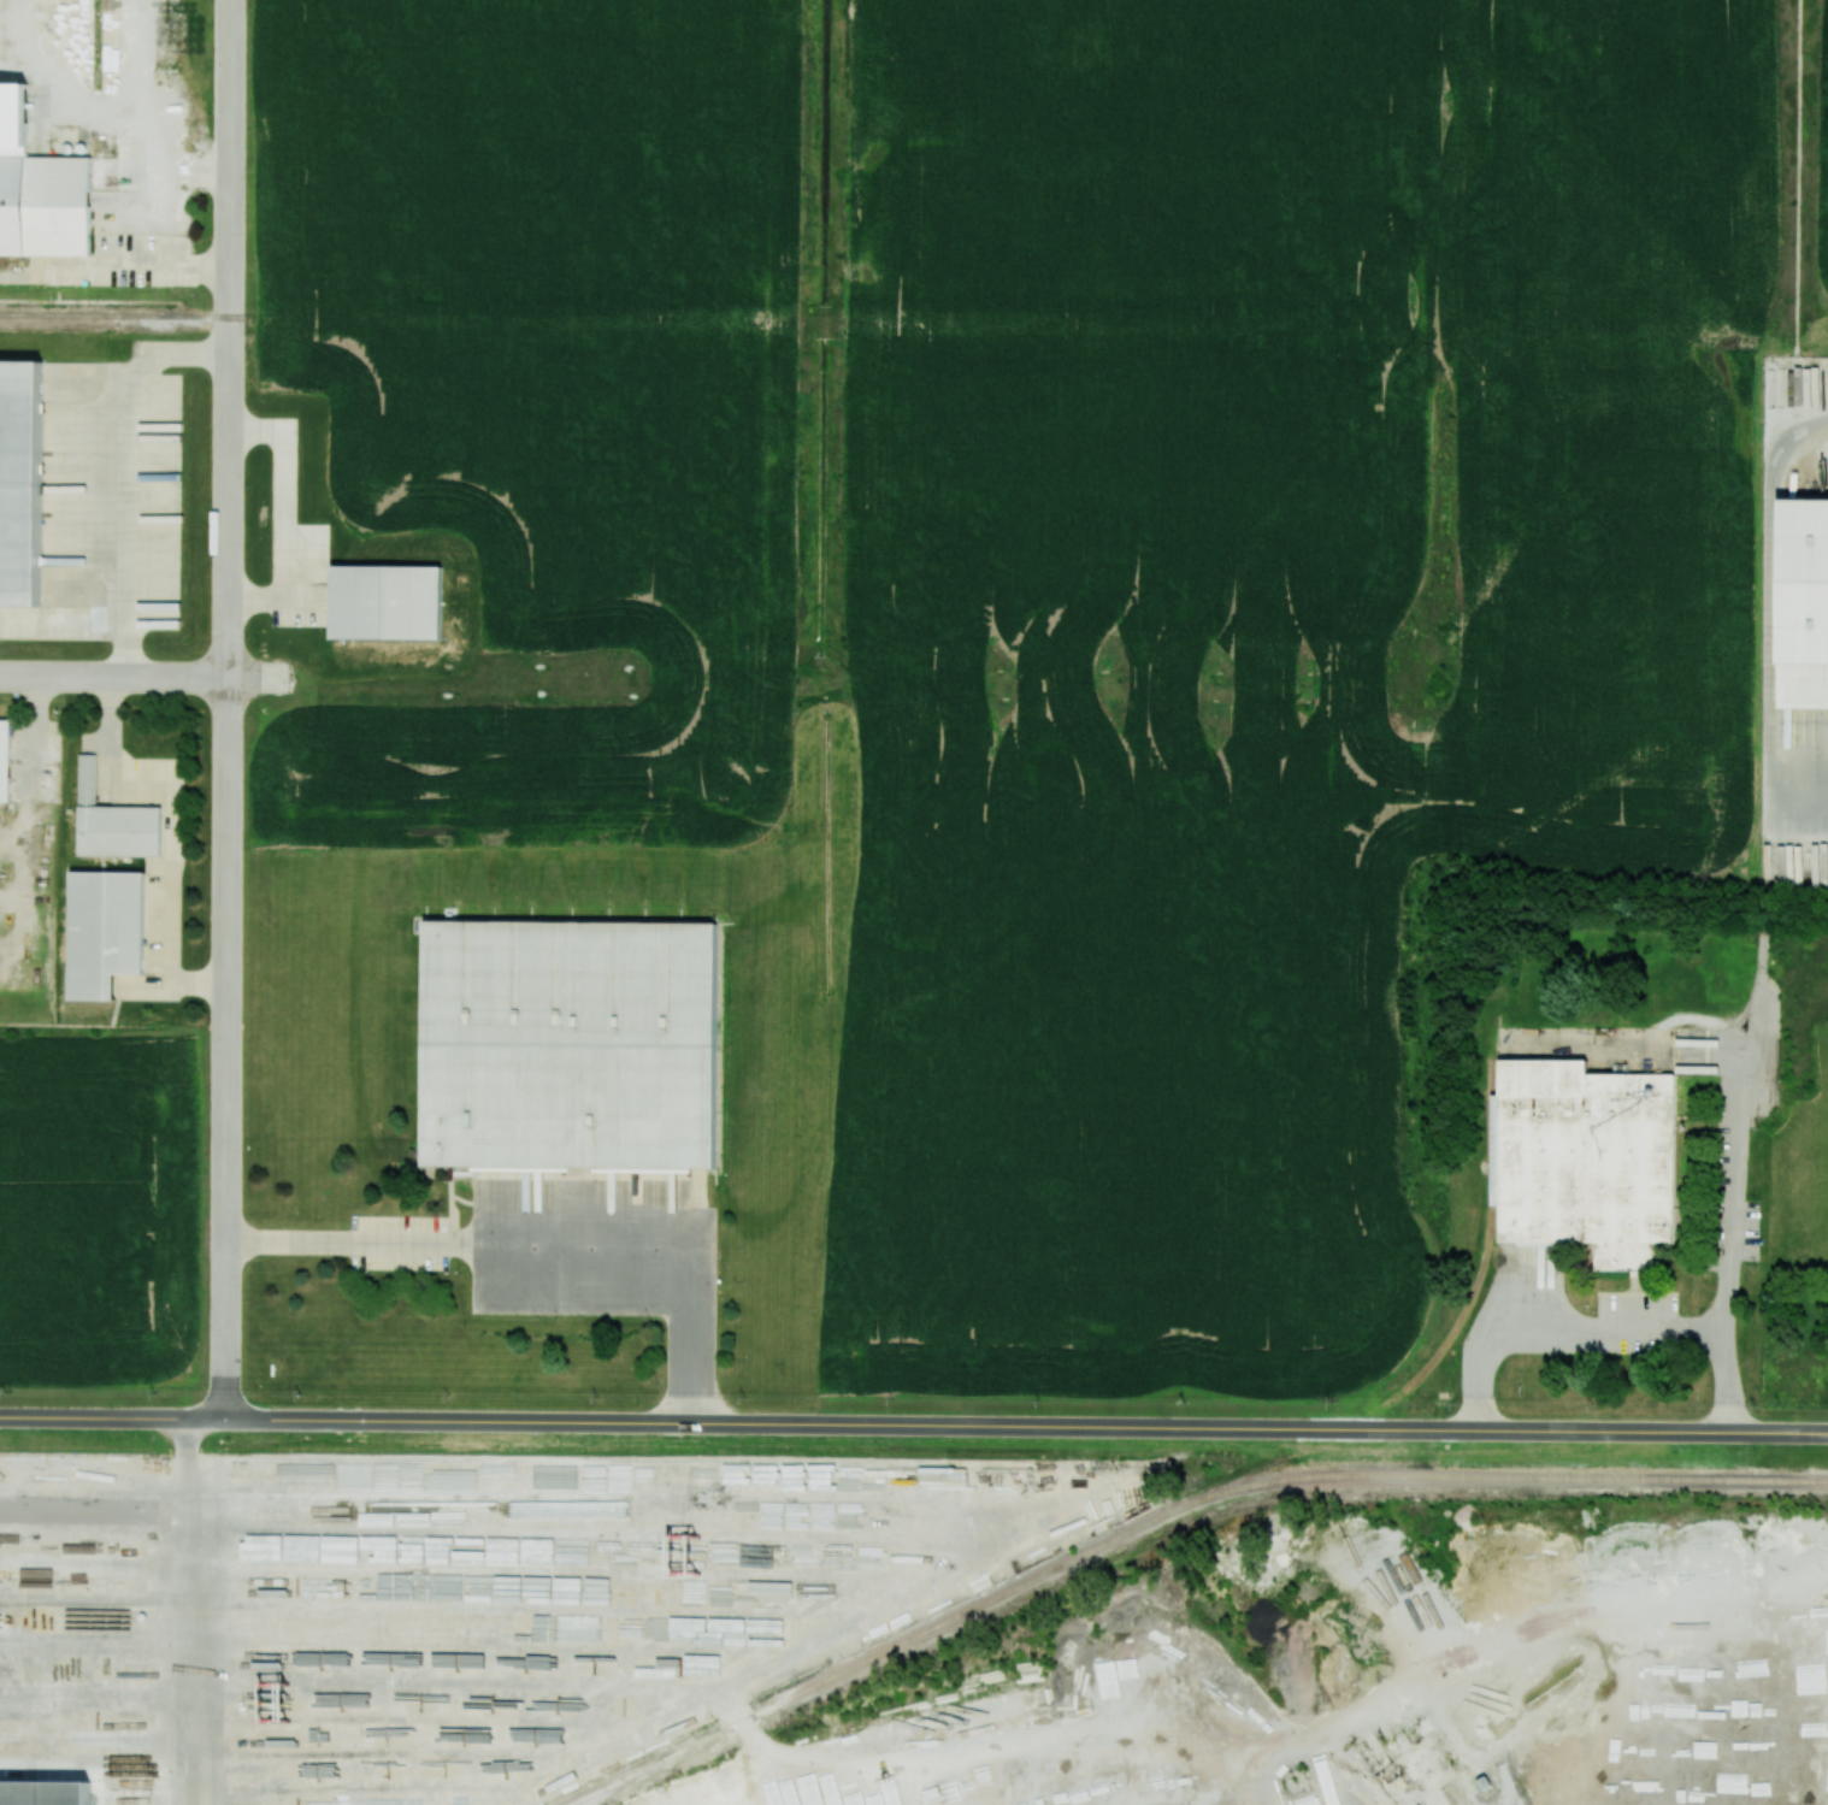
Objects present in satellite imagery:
building: (13, 206)
road: (114, 267)
railway: (122, 312)
building: (17, 471)
road: (129, 511)
building: (387, 594)
building: (1803, 604)
road: (1770, 608)
road: (128, 650)
road: (130, 677)
road: (228, 709)
building: (5, 760)
building: (113, 822)
building: (104, 932)
building: (577, 1048)
building: (1584, 1160)
road: (1730, 1191)
railway: (1488, 1229)
road: (543, 1255)
road: (1602, 1329)
road: (914, 1424)
railway: (1166, 1516)
road: (189, 1611)
road: (1655, 1639)
building: (47, 1793)

